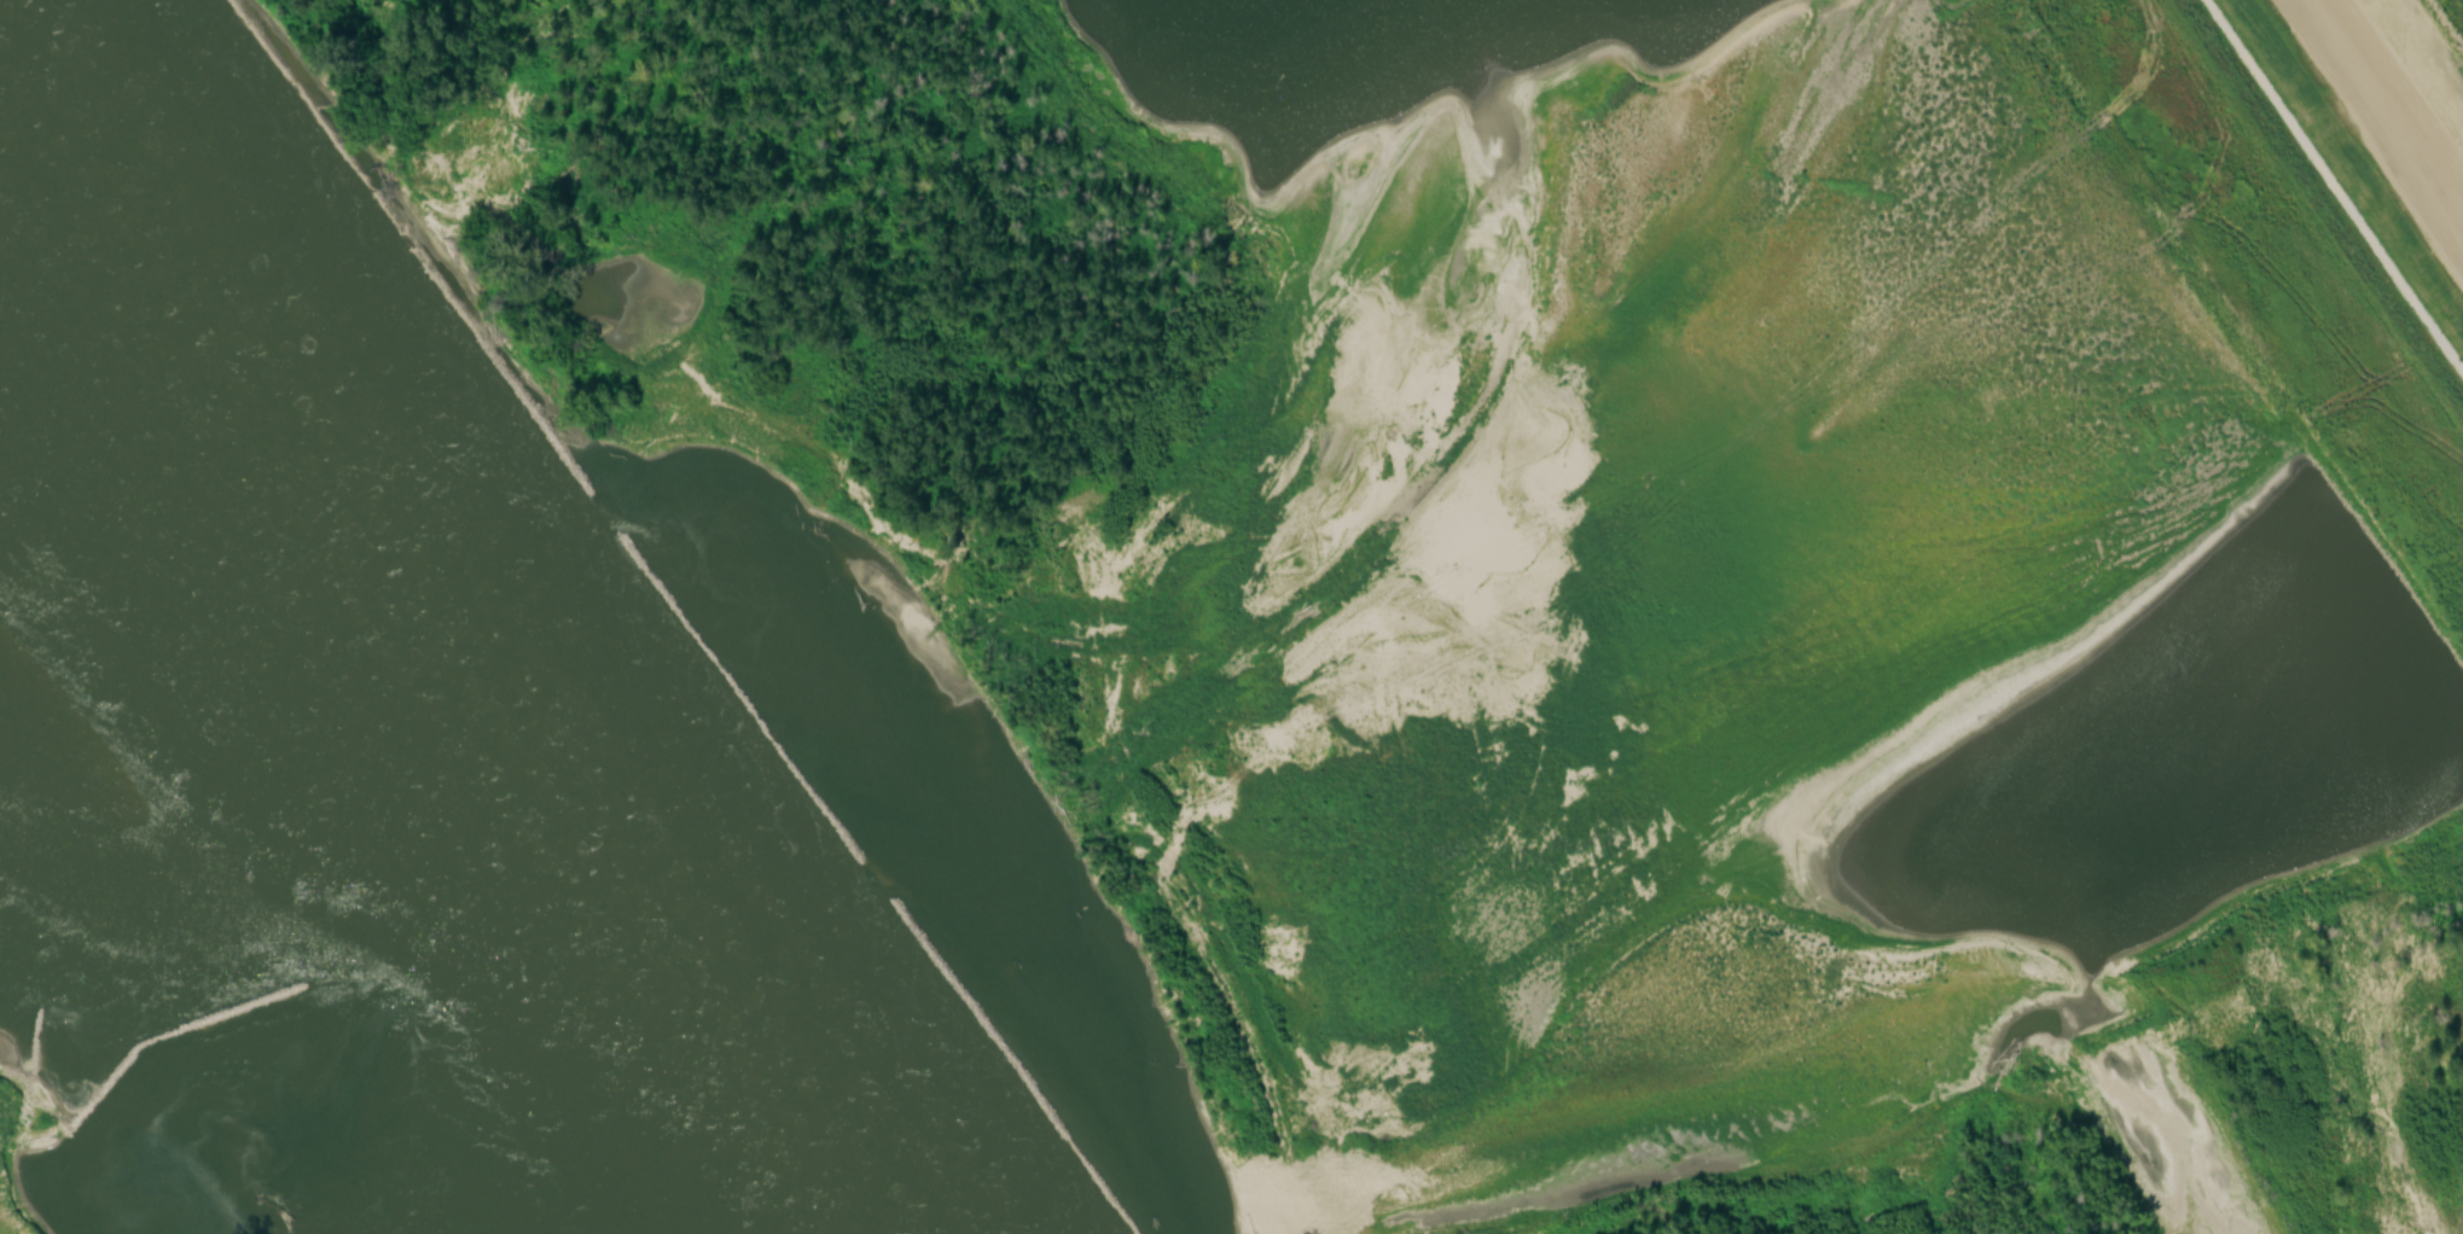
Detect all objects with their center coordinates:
river: (385, 695)

